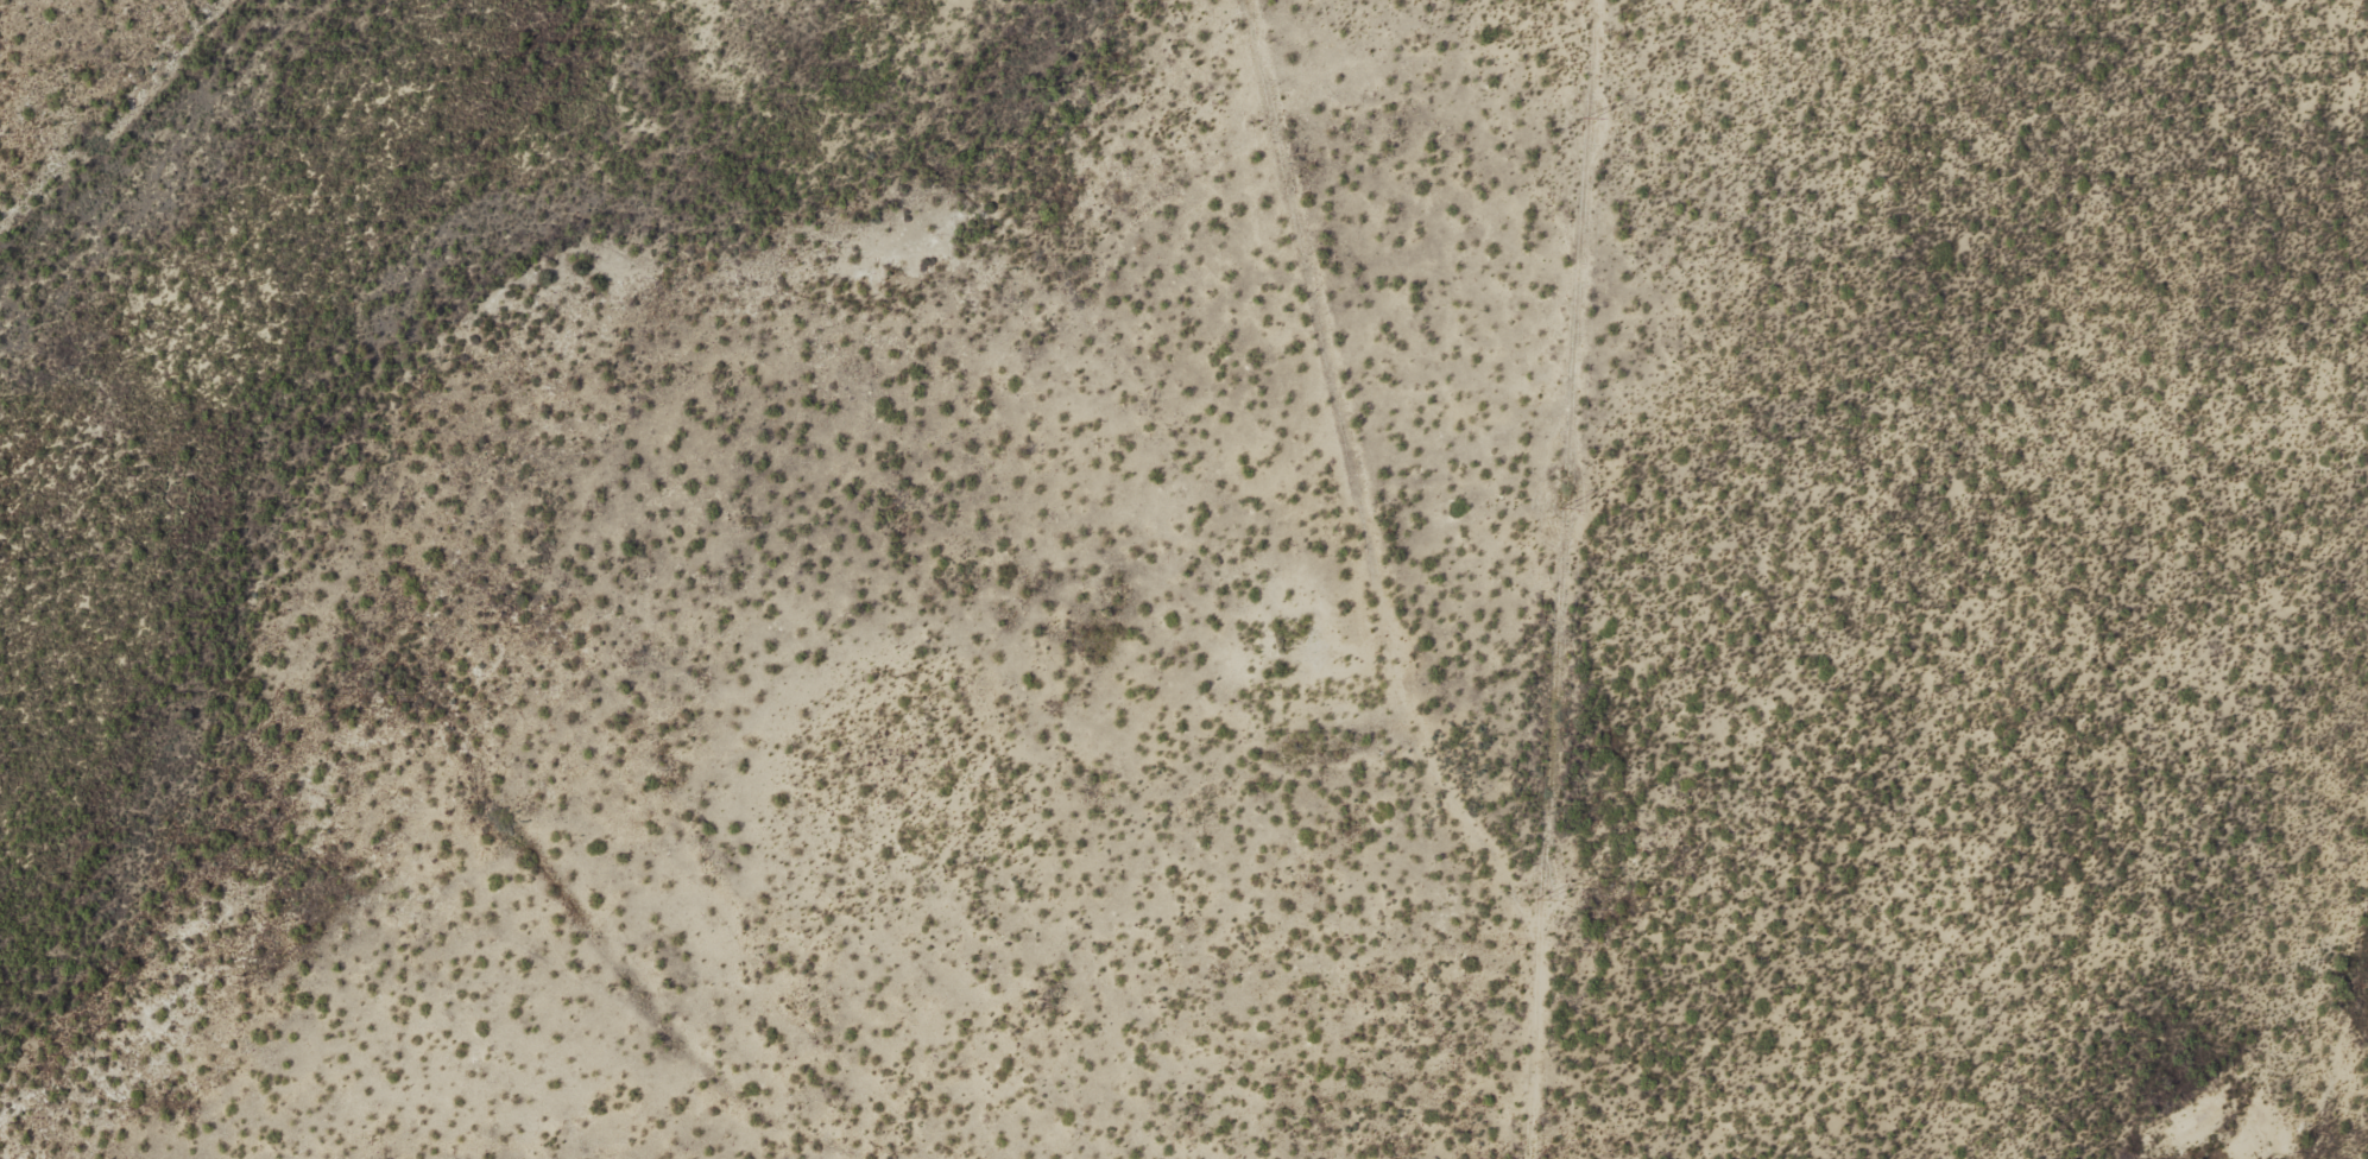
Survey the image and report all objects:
power tower: (1587, 119)
power tower: (1564, 509)
power tower: (1541, 900)

